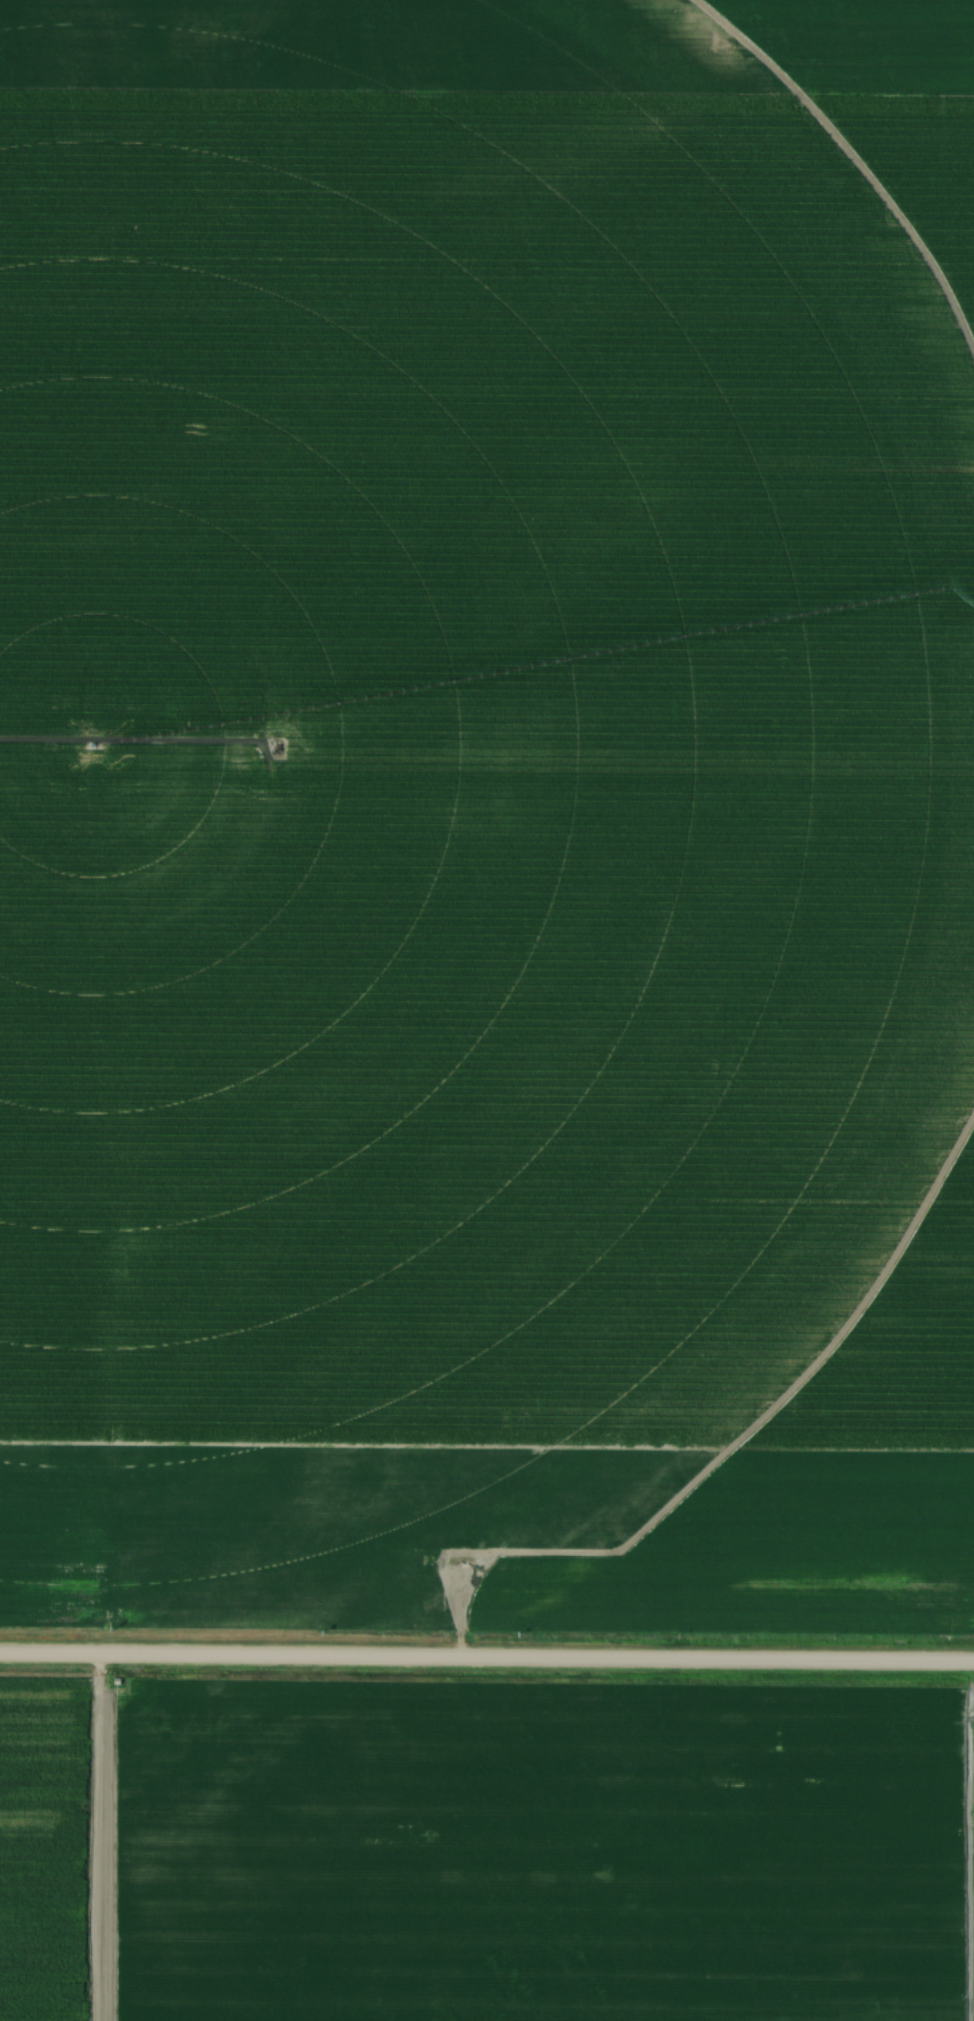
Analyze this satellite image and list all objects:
road: (487, 1663)

